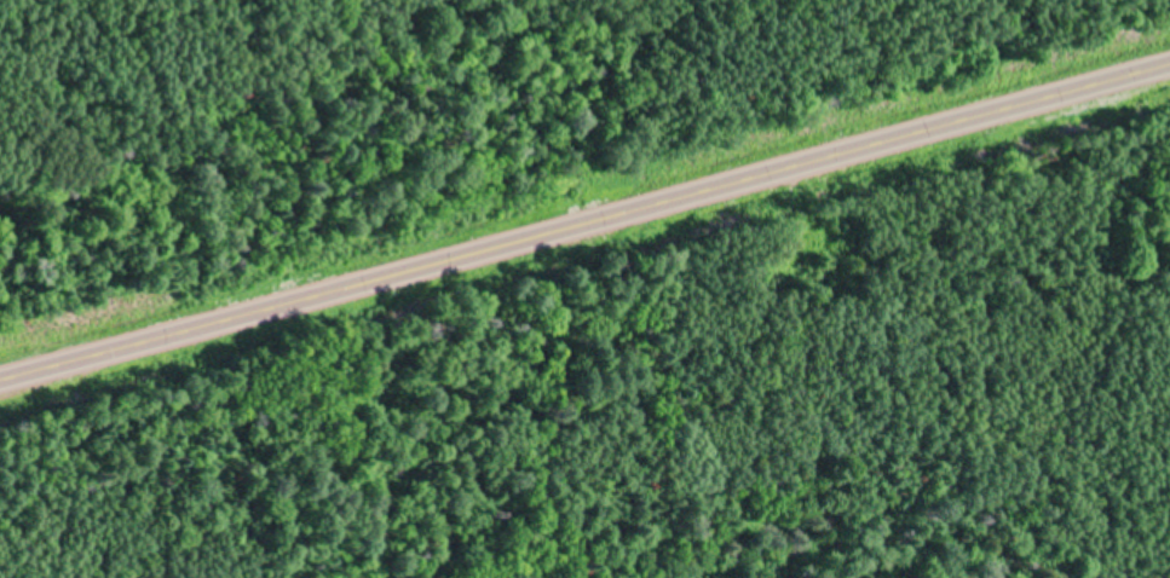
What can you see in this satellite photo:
road: (584, 222)

